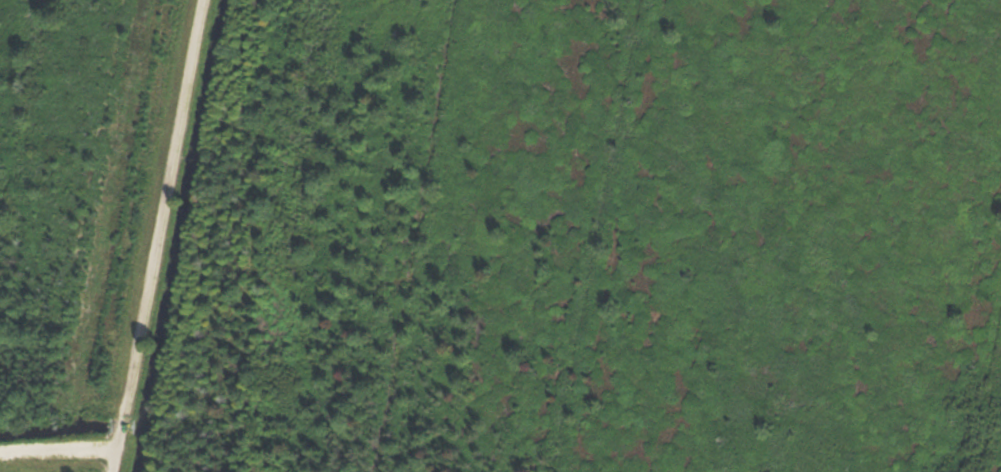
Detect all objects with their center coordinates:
road: (158, 225)
road: (57, 450)
road: (113, 461)

